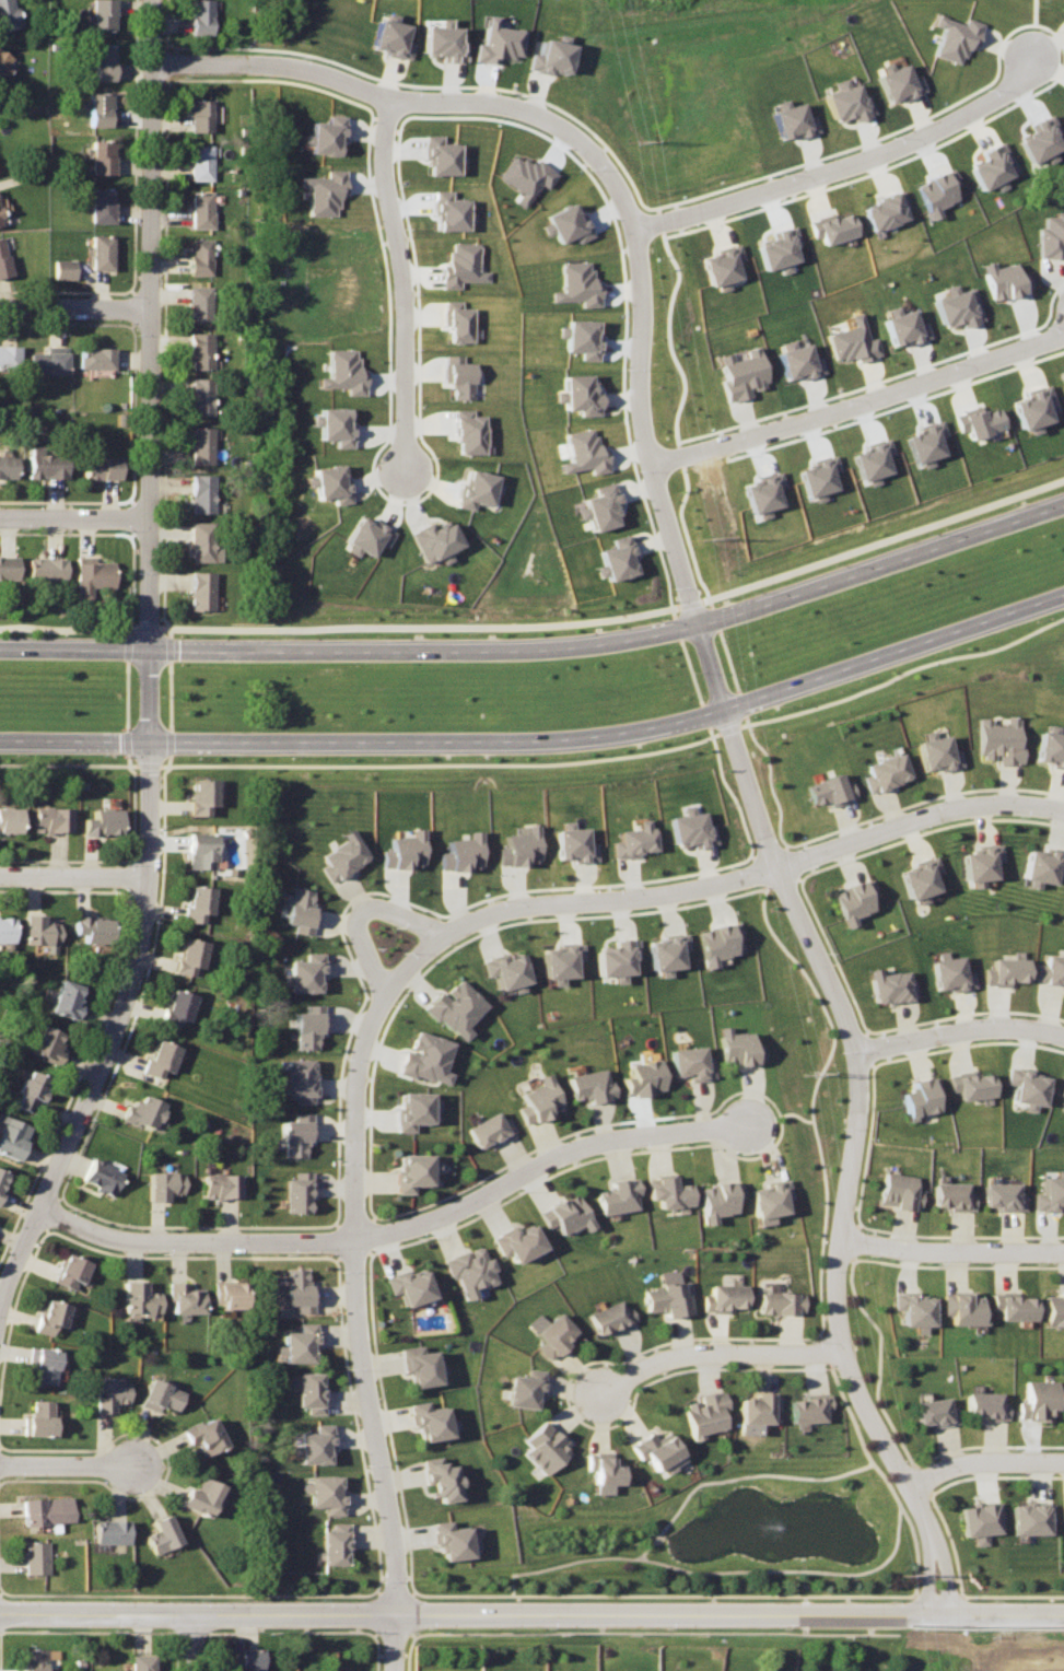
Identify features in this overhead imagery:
park: (646, 7)
building: (5, 14)
building: (102, 14)
building: (201, 16)
building: (386, 32)
road: (1033, 32)
building: (948, 36)
building: (495, 39)
building: (442, 42)
building: (3, 61)
building: (102, 62)
building: (890, 78)
road: (416, 100)
building: (845, 104)
building: (100, 110)
building: (199, 115)
building: (790, 120)
building: (321, 130)
building: (1039, 138)
power tower: (632, 141)
building: (101, 156)
building: (443, 156)
road: (838, 157)
building: (200, 164)
building: (992, 167)
building: (526, 177)
building: (323, 192)
building: (934, 194)
building: (101, 206)
building: (202, 210)
building: (885, 210)
building: (452, 212)
road: (149, 221)
building: (566, 223)
building: (831, 227)
building: (1050, 234)
building: (776, 249)
building: (100, 252)
building: (200, 256)
building: (3, 261)
building: (465, 266)
building: (722, 267)
building: (63, 269)
building: (1003, 280)
building: (578, 284)
road: (402, 285)
building: (200, 303)
road: (74, 306)
building: (957, 306)
building: (459, 322)
building: (902, 328)
building: (581, 338)
building: (850, 341)
building: (201, 350)
building: (9, 357)
building: (96, 359)
building: (795, 360)
building: (47, 363)
building: (343, 372)
building: (740, 374)
building: (460, 376)
road: (858, 394)
building: (580, 395)
building: (201, 396)
building: (1034, 408)
building: (980, 421)
building: (332, 425)
building: (470, 435)
building: (925, 443)
building: (200, 445)
building: (584, 453)
building: (872, 460)
building: (44, 465)
building: (8, 467)
building: (101, 467)
building: (819, 477)
road: (148, 480)
building: (328, 482)
building: (475, 484)
building: (201, 493)
building: (764, 494)
building: (600, 507)
road: (73, 516)
building: (365, 536)
building: (435, 541)
power tower: (706, 541)
building: (202, 544)
building: (616, 559)
building: (8, 569)
building: (46, 570)
building: (92, 577)
building: (200, 591)
road: (541, 620)
road: (542, 650)
building: (999, 735)
road: (542, 740)
building: (1049, 743)
building: (936, 747)
building: (885, 766)
building: (829, 783)
building: (201, 793)
building: (50, 818)
building: (9, 819)
building: (101, 821)
building: (691, 825)
building: (629, 834)
building: (570, 839)
building: (517, 841)
building: (398, 845)
building: (201, 849)
building: (458, 849)
building: (338, 850)
building: (978, 856)
building: (1040, 856)
building: (917, 870)
road: (72, 876)
road: (720, 884)
building: (851, 891)
building: (197, 902)
building: (296, 904)
road: (362, 904)
road: (802, 921)
building: (5, 927)
building: (93, 928)
road: (140, 928)
building: (39, 930)
building: (718, 934)
building: (663, 945)
building: (612, 950)
building: (554, 953)
building: (189, 956)
building: (503, 962)
building: (1053, 962)
building: (304, 966)
building: (1004, 966)
building: (950, 969)
building: (891, 979)
building: (66, 998)
building: (451, 1001)
building: (176, 1006)
building: (306, 1018)
road: (959, 1028)
building: (737, 1040)
building: (47, 1043)
building: (421, 1051)
building: (688, 1056)
building: (160, 1057)
building: (638, 1067)
power tower: (811, 1072)
building: (299, 1075)
building: (586, 1078)
building: (968, 1079)
building: (1025, 1079)
building: (920, 1088)
building: (31, 1089)
building: (1062, 1092)
building: (536, 1096)
building: (1062, 1100)
building: (408, 1105)
building: (1062, 1108)
building: (142, 1109)
building: (488, 1123)
building: (296, 1129)
building: (12, 1135)
building: (409, 1166)
building: (104, 1176)
building: (2, 1181)
building: (166, 1183)
building: (223, 1184)
building: (297, 1184)
building: (662, 1185)
building: (1052, 1188)
building: (612, 1189)
building: (902, 1190)
building: (955, 1190)
building: (1005, 1190)
building: (764, 1191)
building: (715, 1192)
building: (562, 1205)
road: (399, 1224)
building: (515, 1236)
road: (950, 1250)
building: (466, 1261)
building: (73, 1272)
building: (297, 1284)
building: (410, 1284)
building: (725, 1292)
building: (230, 1295)
building: (185, 1297)
building: (668, 1297)
building: (779, 1297)
building: (140, 1299)
building: (1055, 1301)
building: (911, 1302)
building: (1017, 1305)
building: (966, 1306)
building: (55, 1316)
building: (612, 1317)
road: (358, 1327)
building: (554, 1334)
building: (299, 1342)
road: (715, 1354)
building: (417, 1362)
building: (45, 1364)
building: (308, 1388)
building: (528, 1388)
building: (110, 1391)
building: (1037, 1393)
building: (162, 1395)
building: (985, 1399)
building: (806, 1402)
building: (759, 1403)
building: (931, 1406)
building: (705, 1410)
building: (428, 1415)
building: (40, 1418)
building: (204, 1434)
building: (314, 1439)
building: (546, 1448)
building: (657, 1450)
road: (985, 1462)
road: (68, 1464)
building: (605, 1468)
building: (442, 1477)
building: (325, 1487)
building: (202, 1496)
building: (1062, 1507)
building: (43, 1510)
building: (978, 1512)
building: (1027, 1512)
building: (113, 1531)
building: (163, 1533)
building: (451, 1535)
building: (332, 1539)
building: (36, 1556)
power tower: (907, 1574)
road: (95, 1611)
road: (628, 1611)
road: (191, 1641)
building: (35, 1659)
building: (248, 1659)
building: (142, 1662)

